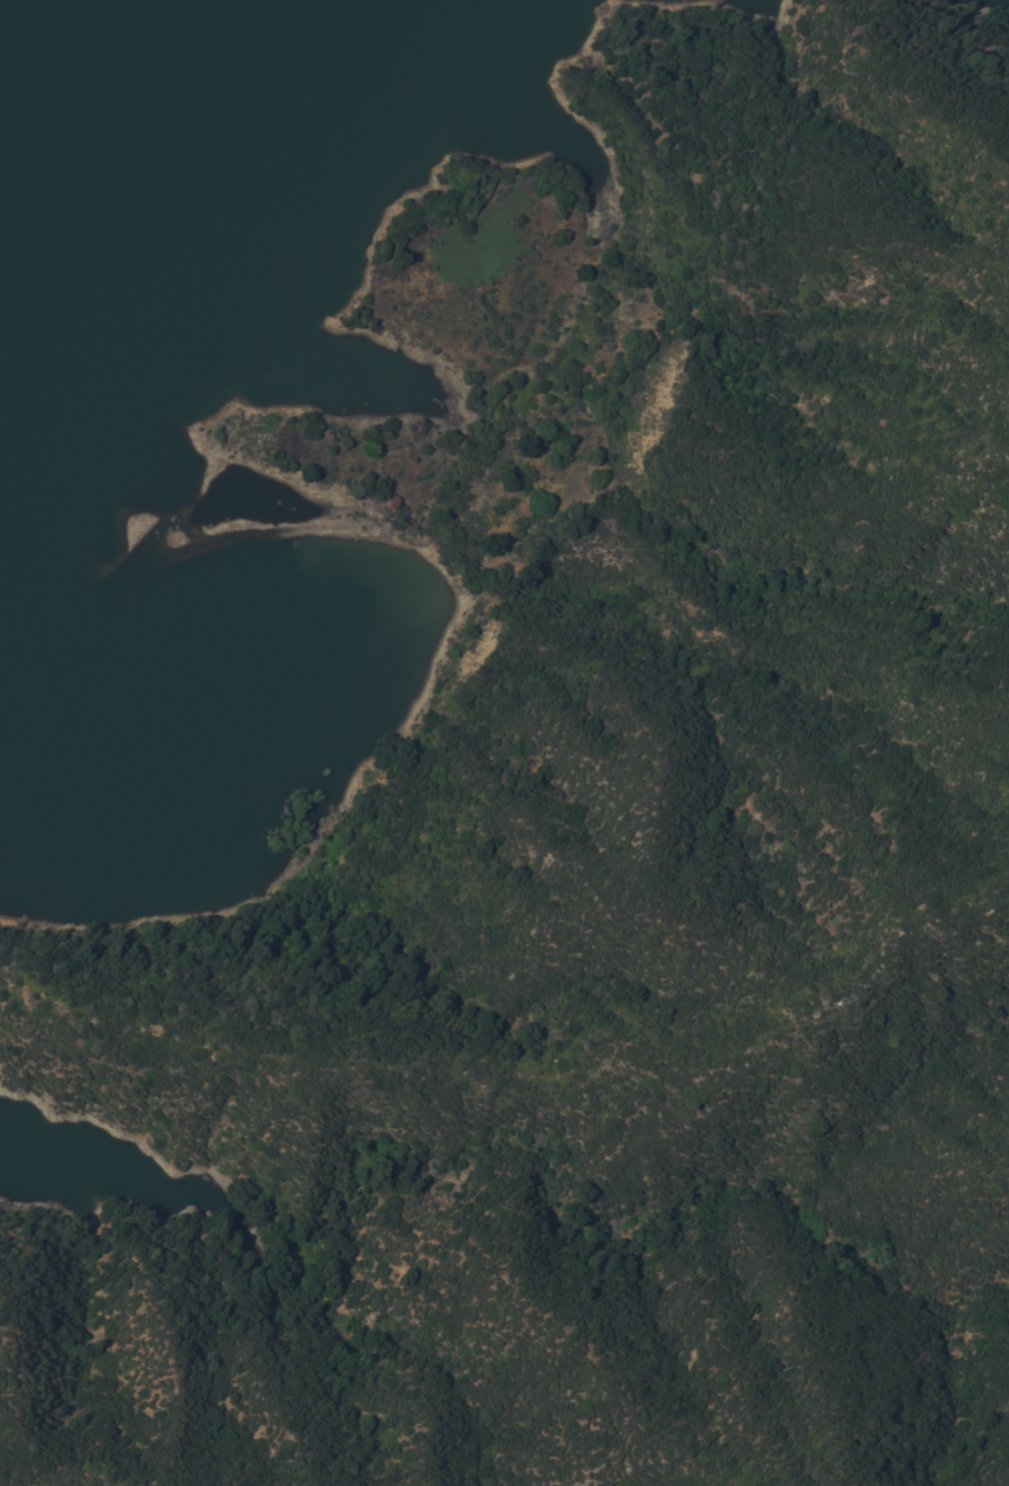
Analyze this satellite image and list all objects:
river: (155, 146)

